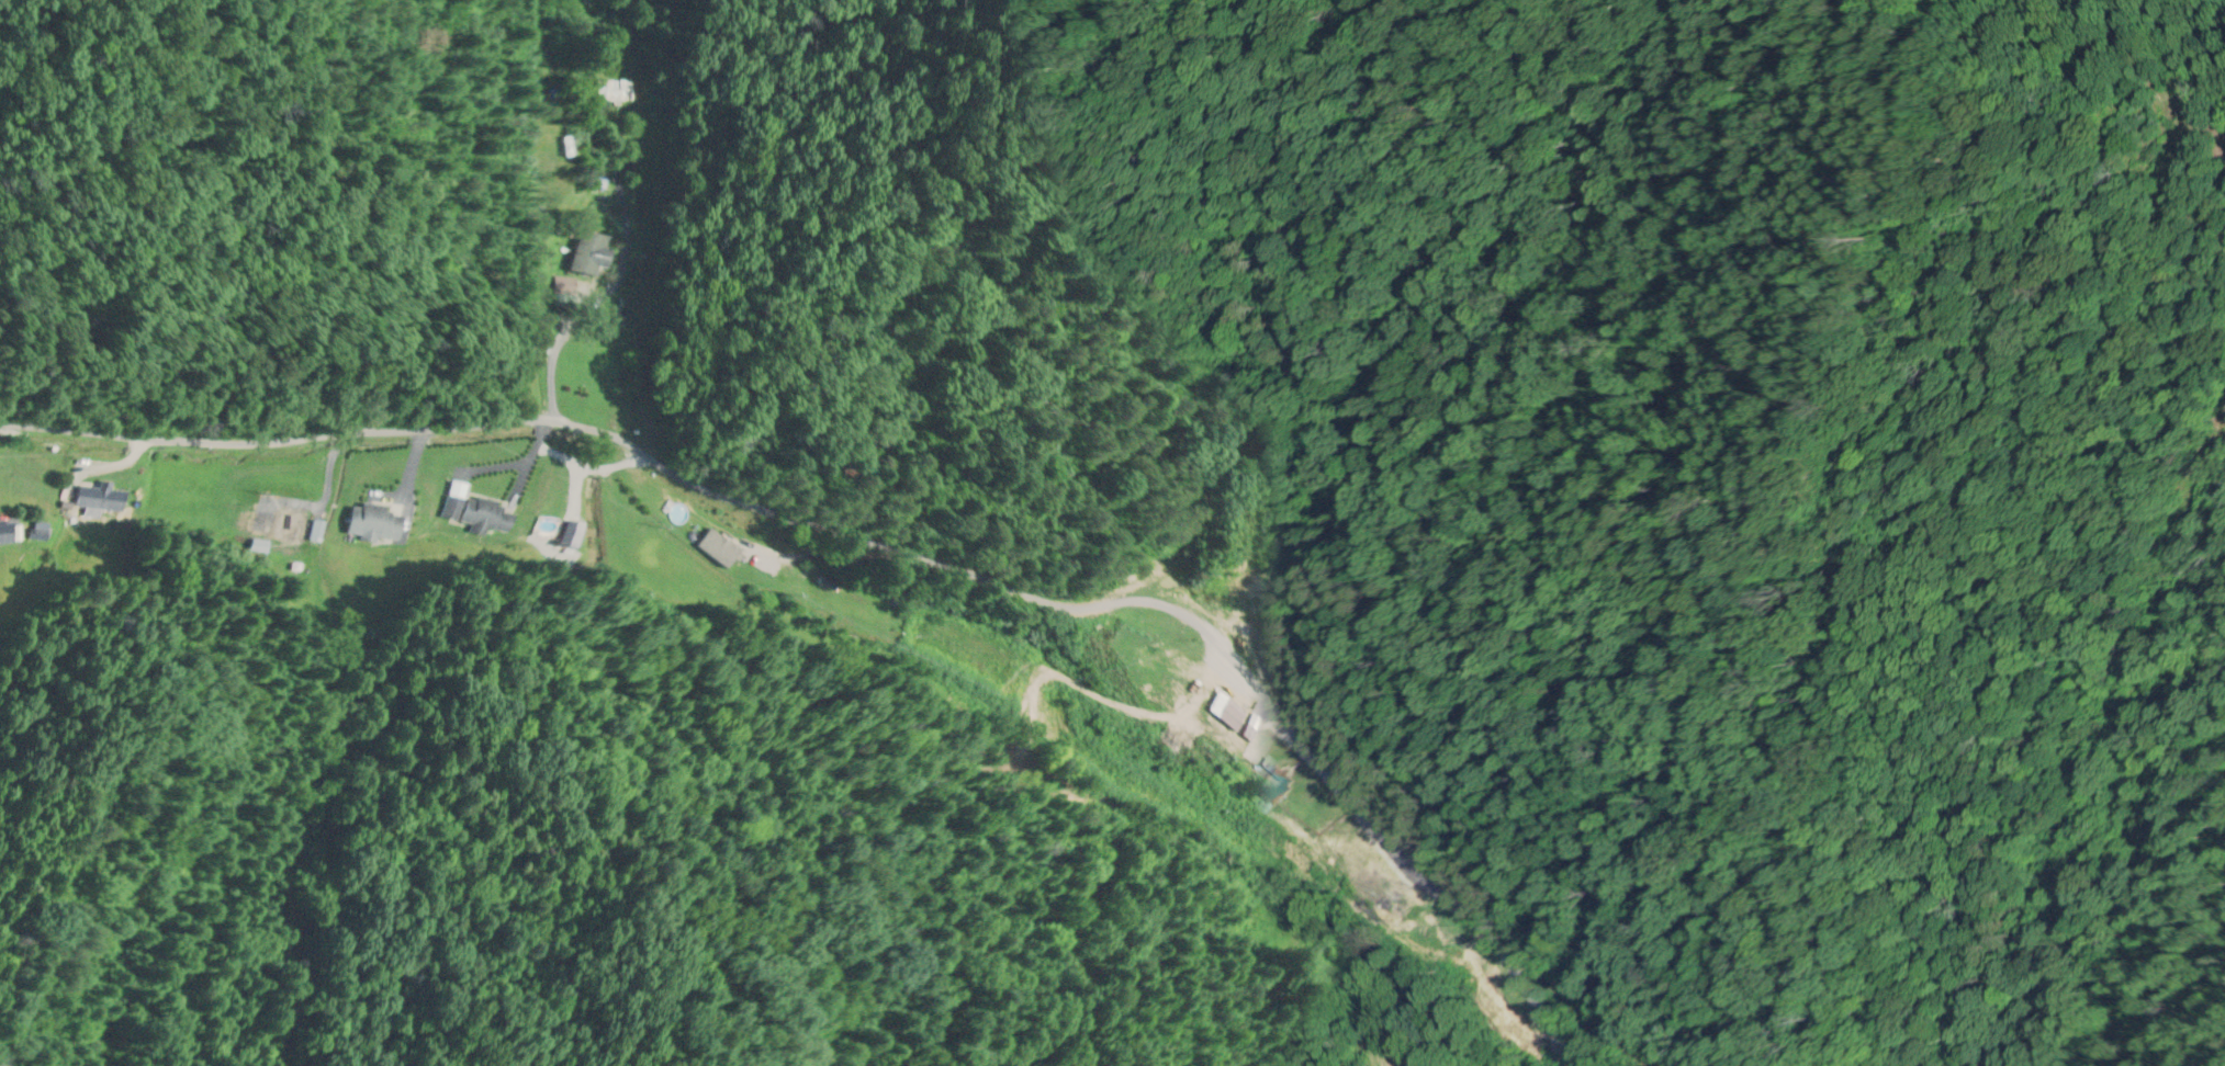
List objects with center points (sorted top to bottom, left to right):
building: (613, 92)
building: (591, 259)
building: (102, 500)
building: (476, 514)
building: (373, 524)
building: (282, 528)
building: (5, 534)
road: (890, 555)
building: (766, 572)
building: (1211, 717)
building: (1274, 783)
building: (1398, 891)

